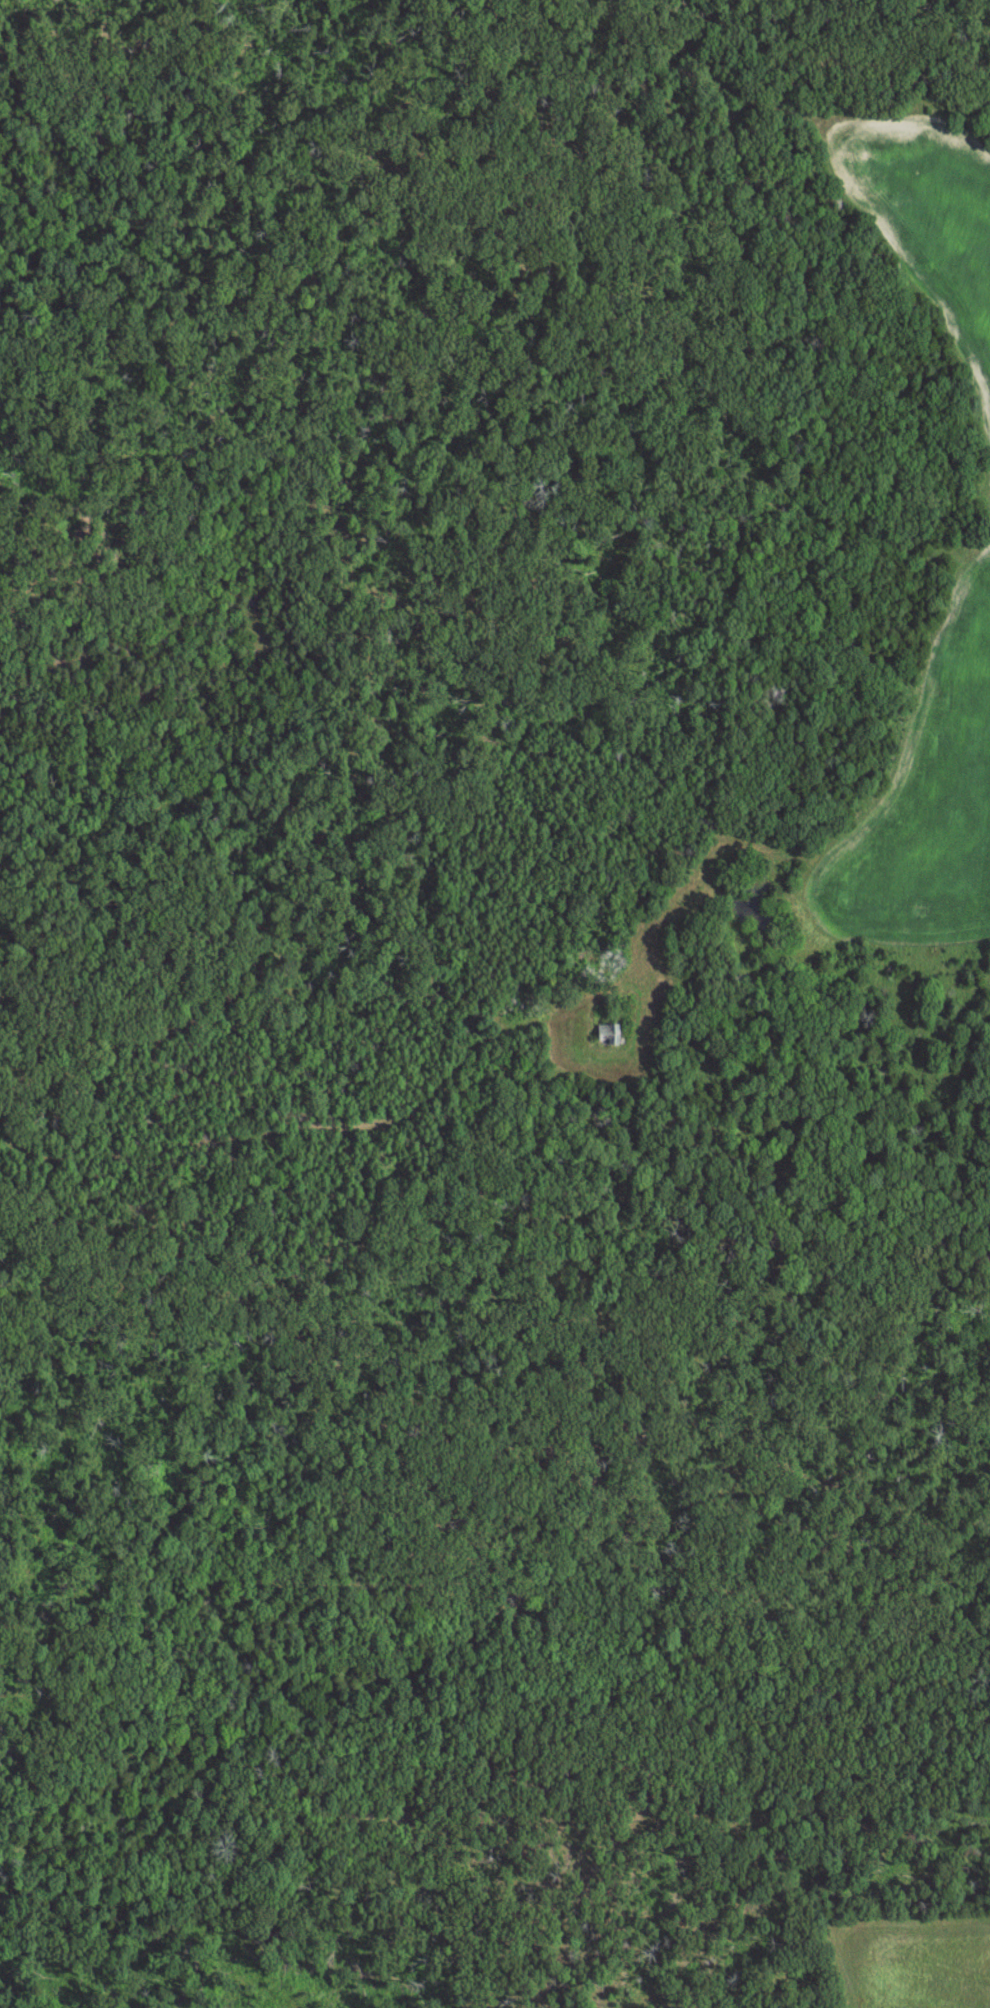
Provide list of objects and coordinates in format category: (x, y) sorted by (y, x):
road: (795, 508)
building: (609, 1034)

